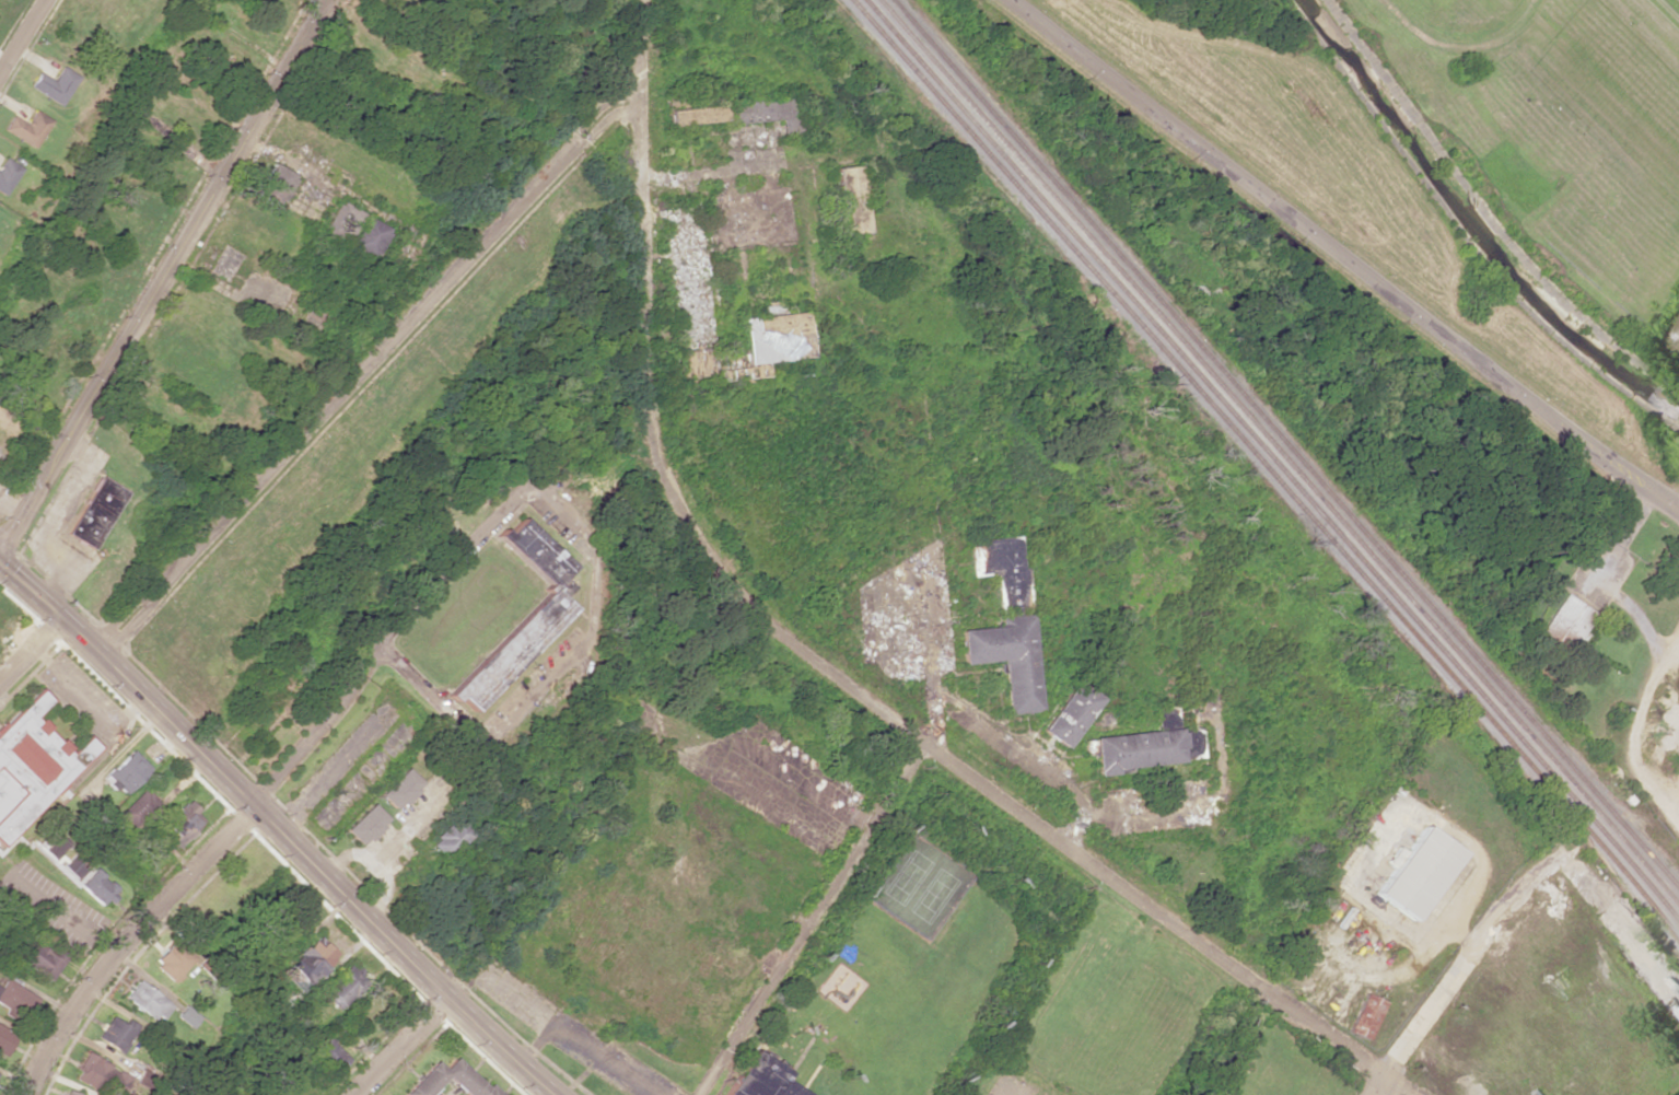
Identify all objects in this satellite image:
road: (21, 34)
building: (53, 84)
road: (125, 101)
building: (761, 113)
building: (690, 115)
building: (26, 128)
building: (7, 174)
building: (275, 179)
building: (847, 199)
building: (339, 222)
building: (365, 236)
road: (1344, 256)
road: (163, 280)
building: (771, 337)
road: (365, 365)
railway: (1272, 461)
railway: (1266, 468)
building: (94, 512)
building: (532, 552)
traffic signals: (0, 562)
building: (999, 571)
building: (560, 587)
road: (408, 614)
building: (1566, 625)
building: (512, 648)
road: (31, 651)
building: (1006, 659)
road: (815, 664)
building: (1068, 714)
road: (494, 732)
building: (1141, 748)
building: (32, 765)
building: (123, 771)
building: (398, 789)
building: (136, 807)
building: (180, 818)
building: (363, 825)
road: (275, 830)
building: (447, 838)
building: (55, 847)
building: (71, 865)
building: (1414, 872)
park: (918, 886)
building: (97, 887)
road: (809, 920)
road: (132, 946)
building: (39, 958)
building: (172, 962)
building: (308, 963)
building: (342, 985)
building: (15, 998)
building: (145, 1000)
building: (1364, 1016)
building: (115, 1033)
building: (4, 1040)
road: (403, 1046)
building: (333, 1055)
building: (98, 1075)
building: (755, 1076)
building: (460, 1080)
park: (1006, 1086)
road: (1375, 1087)
building: (786, 1088)
building: (69, 1092)

